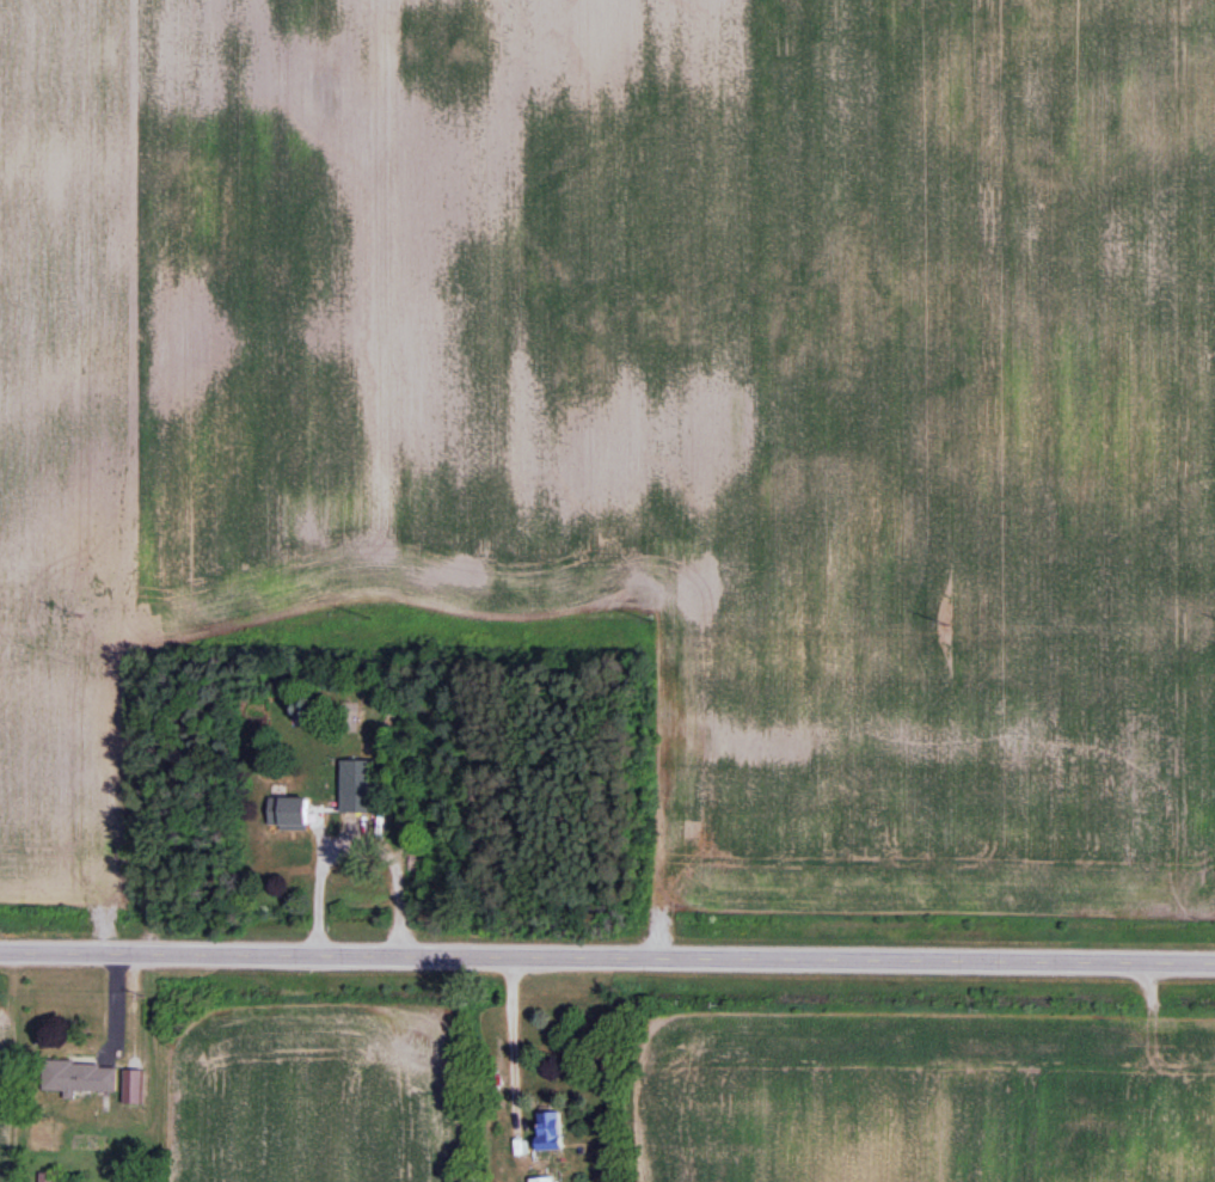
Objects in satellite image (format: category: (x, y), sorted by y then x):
building: (357, 785)
building: (288, 812)
road: (297, 882)
road: (607, 955)
road: (492, 1036)
building: (79, 1076)
building: (548, 1131)
building: (541, 1178)

